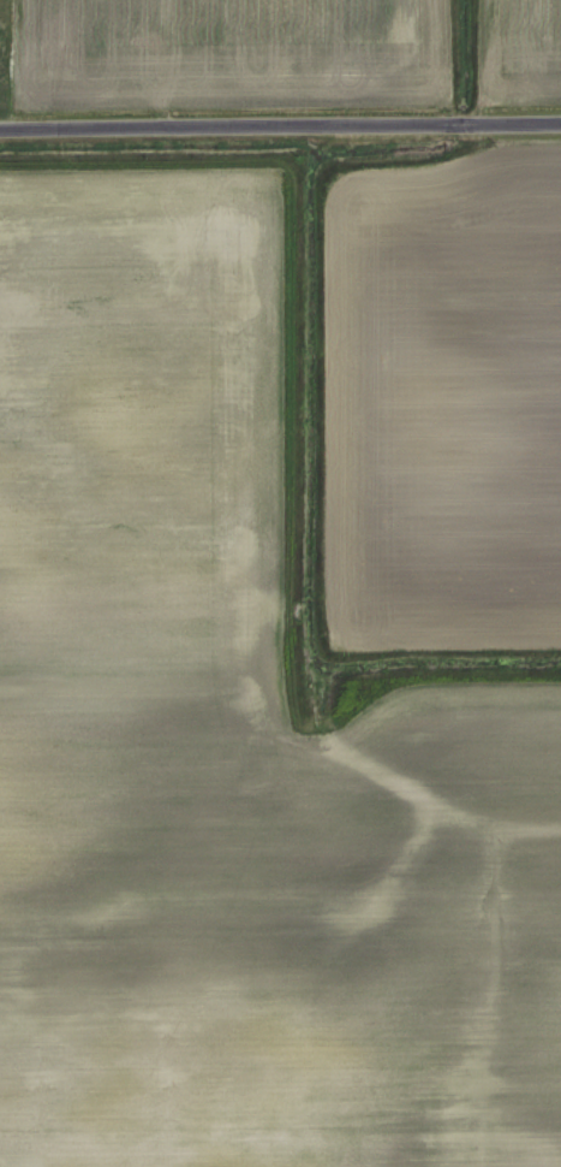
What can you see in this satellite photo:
road: (280, 123)

